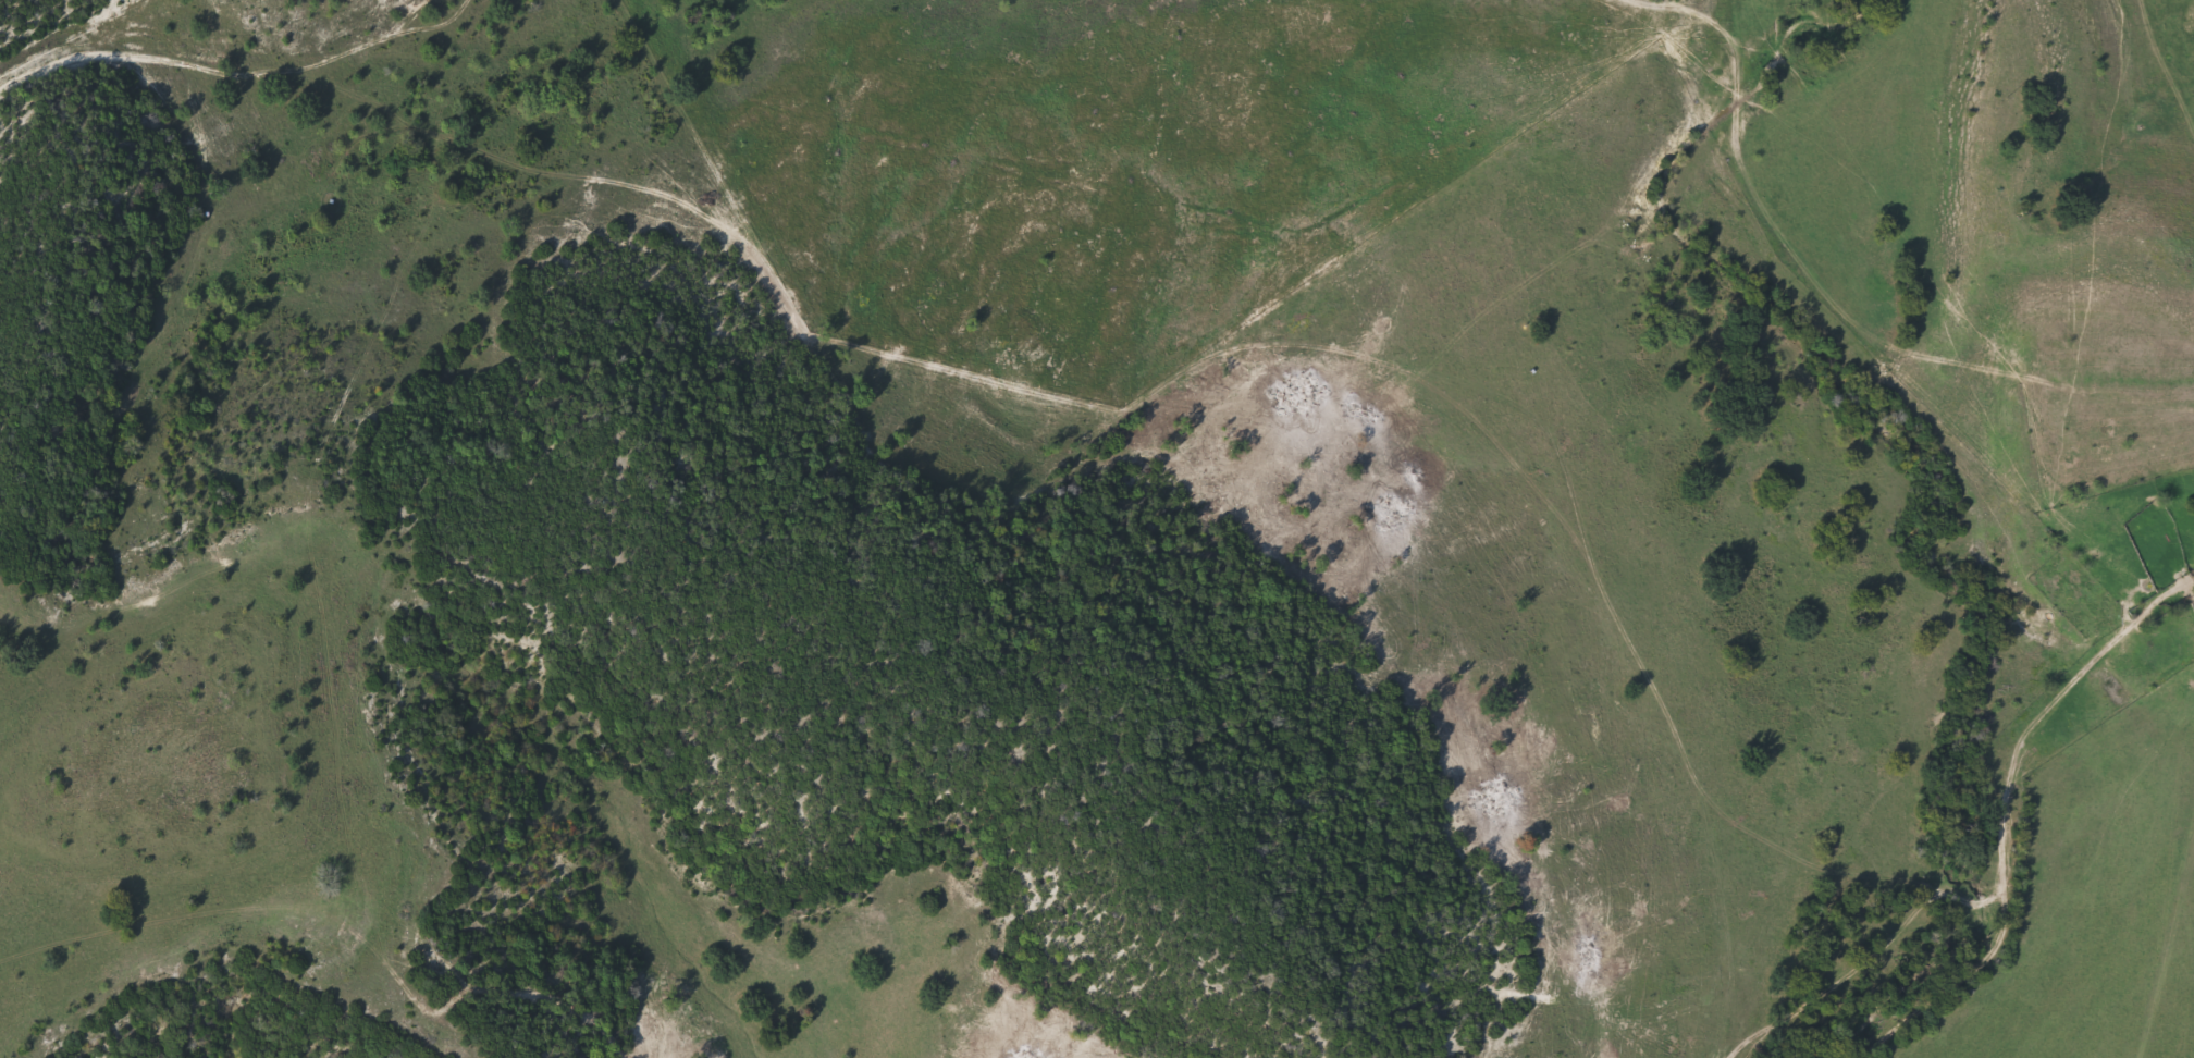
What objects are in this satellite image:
road: (2005, 814)
road: (1877, 967)

